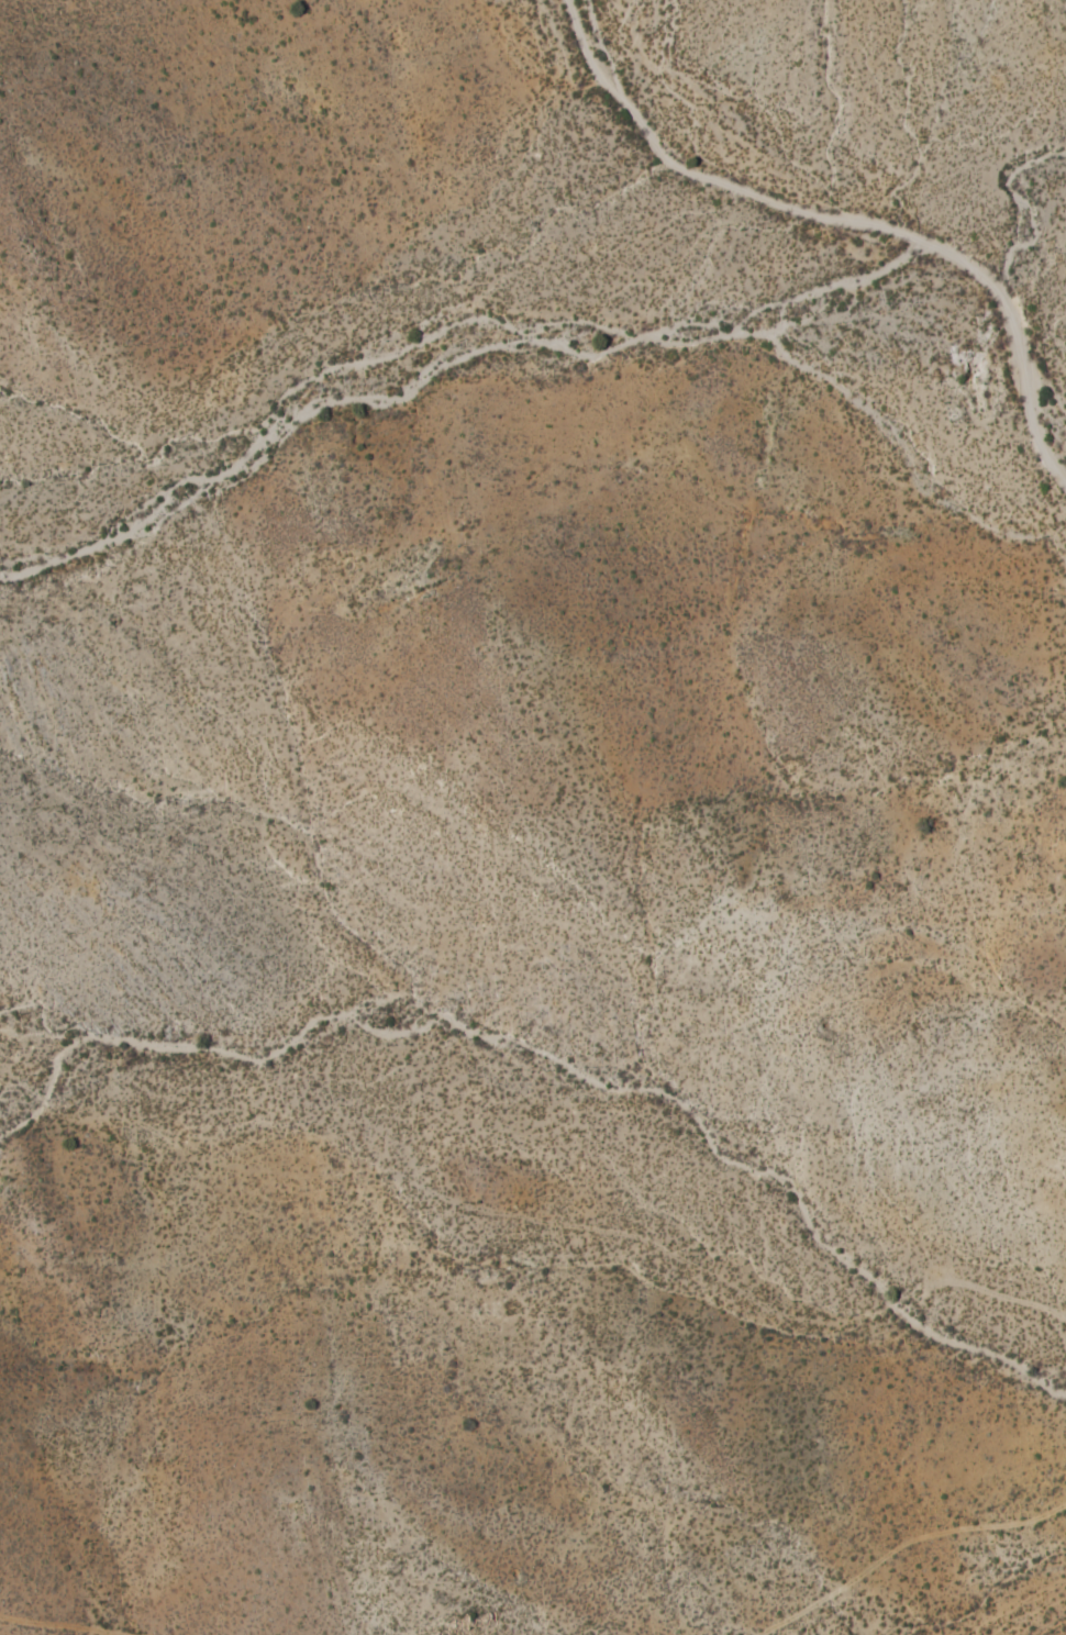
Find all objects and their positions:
road: (842, 221)
road: (462, 1203)
road: (998, 1294)
road: (901, 1545)
road: (57, 1626)
road: (120, 1634)

